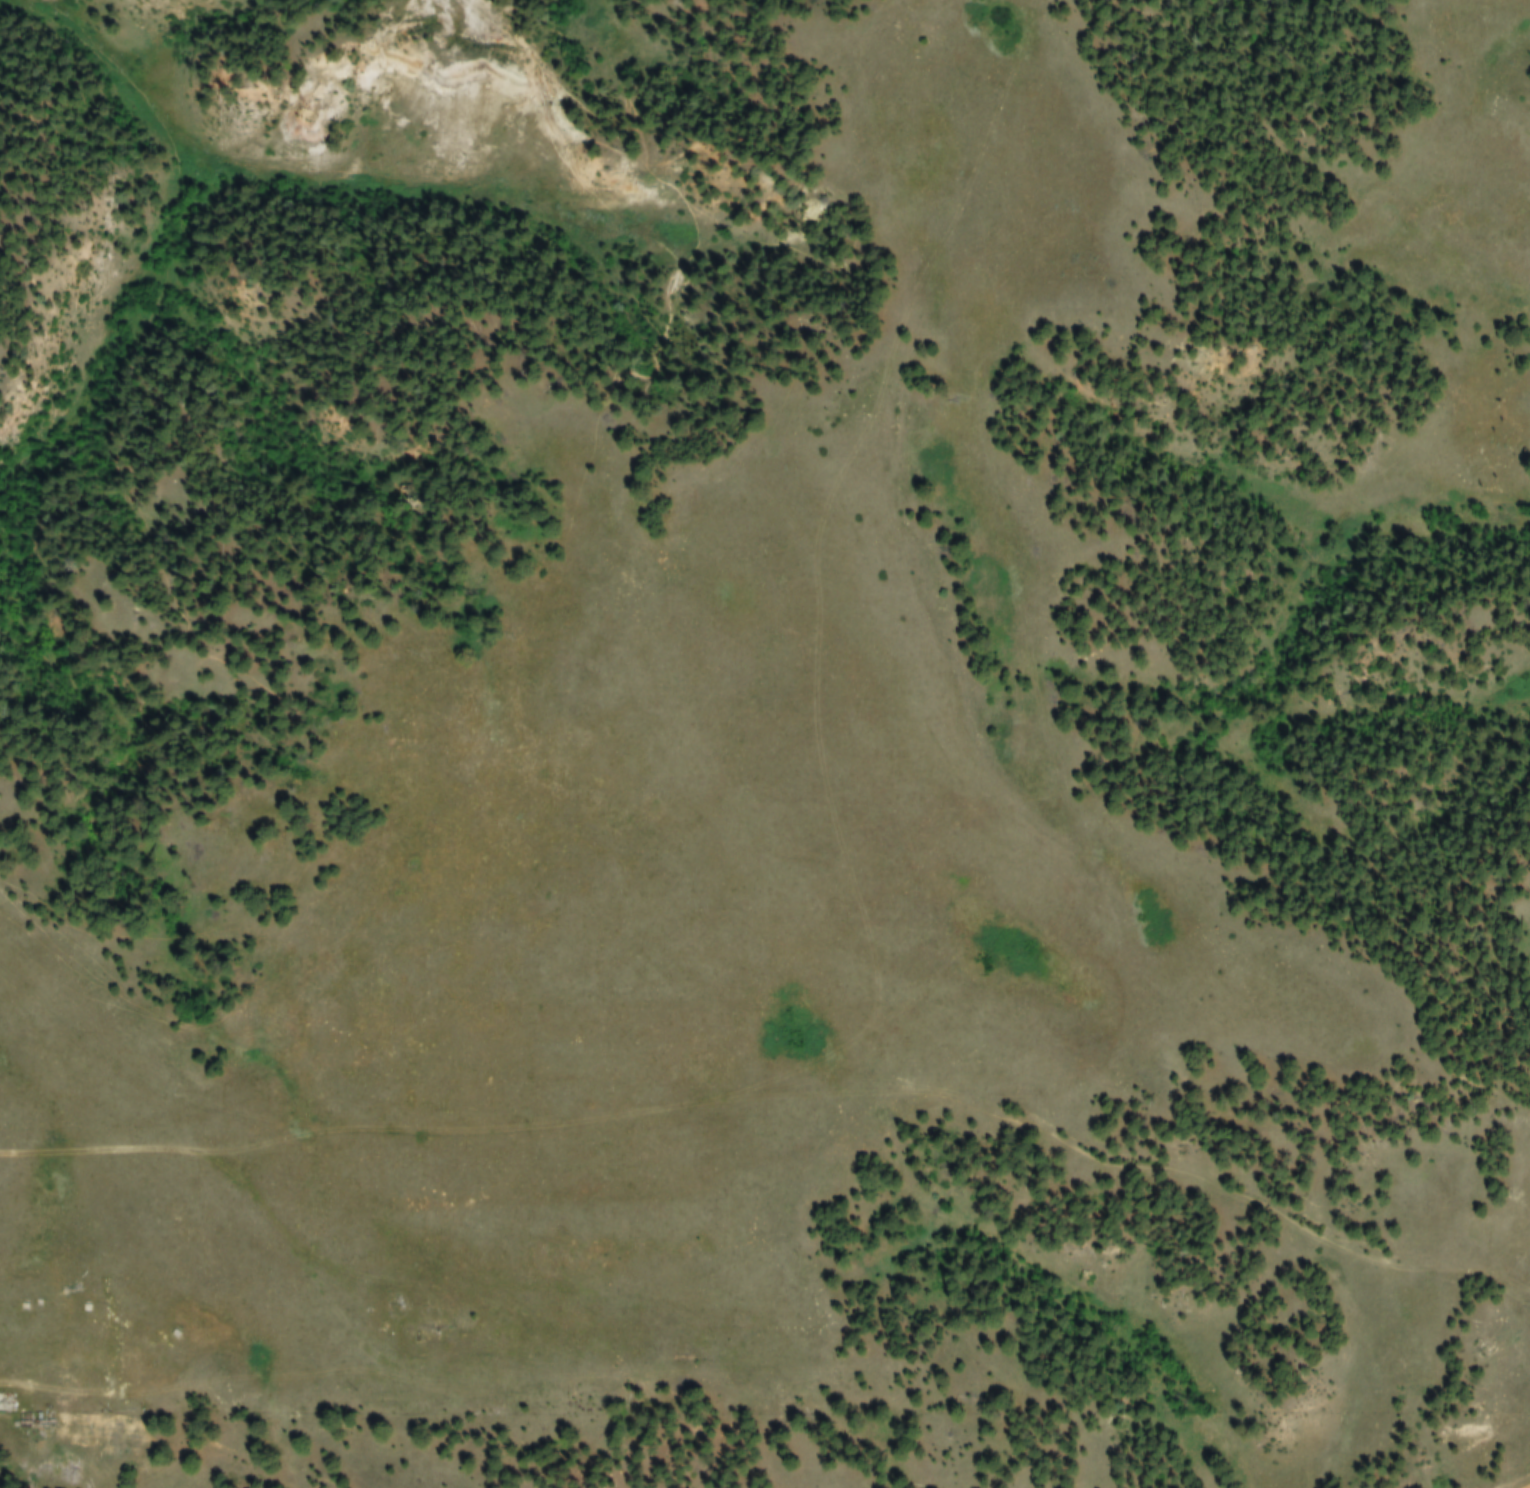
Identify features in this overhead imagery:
road: (286, 1226)
road: (190, 1448)

